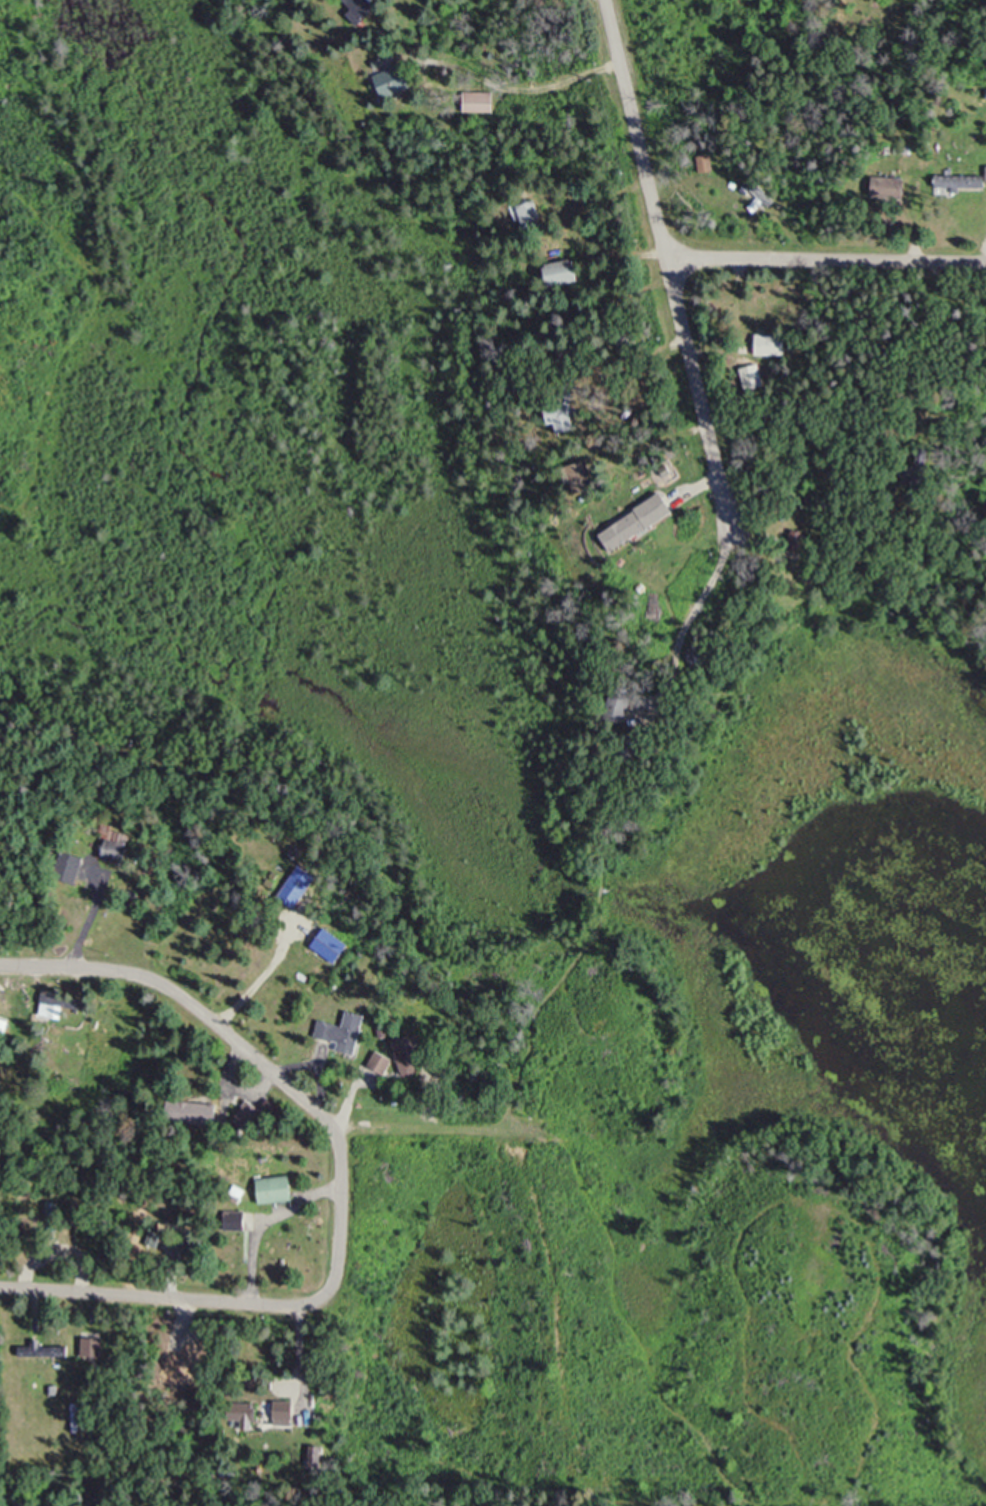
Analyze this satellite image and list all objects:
building: (363, 10)
building: (395, 80)
building: (481, 100)
building: (961, 182)
building: (535, 216)
road: (827, 259)
road: (669, 263)
building: (567, 272)
building: (774, 344)
building: (569, 418)
building: (581, 473)
building: (642, 522)
building: (802, 542)
building: (705, 656)
building: (623, 706)
building: (119, 845)
building: (72, 868)
building: (56, 1007)
building: (5, 1027)
road: (224, 1029)
building: (337, 1033)
building: (196, 1113)
building: (278, 1190)
building: (237, 1221)
building: (30, 1224)
road: (250, 1302)
building: (46, 1351)
building: (245, 1415)
building: (288, 1416)

